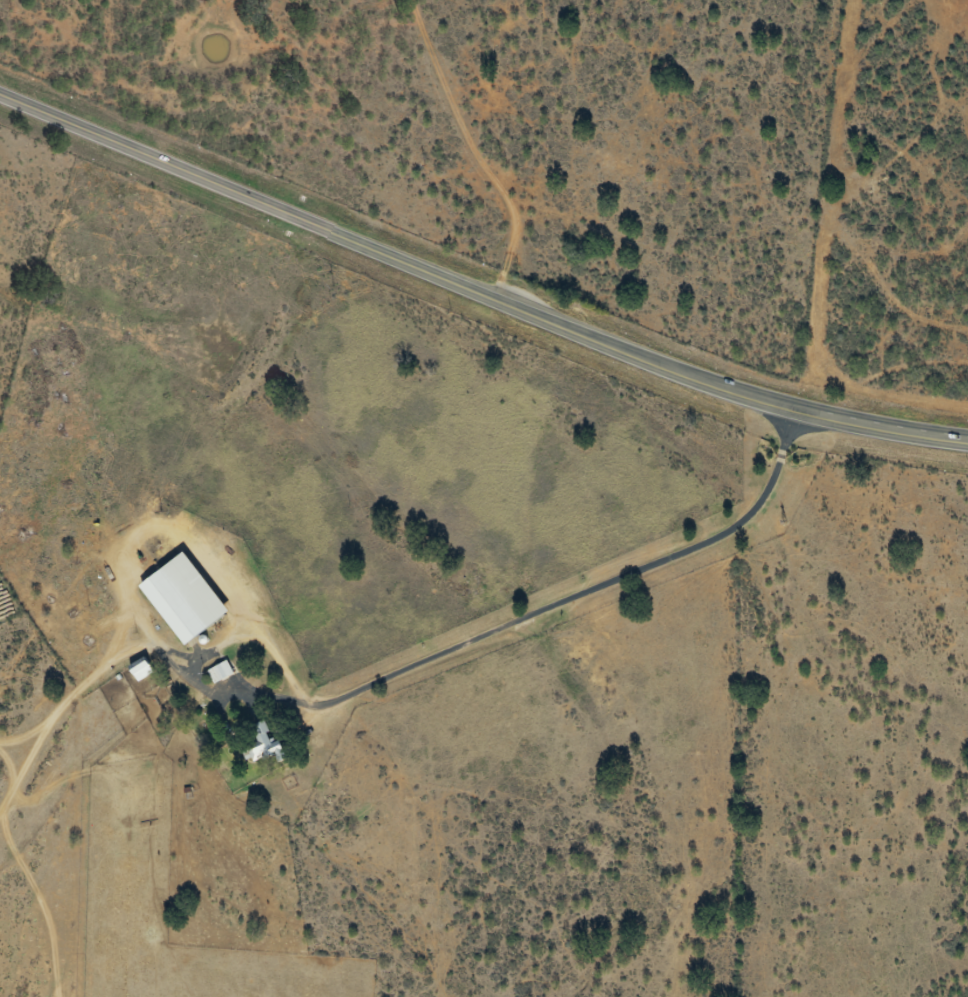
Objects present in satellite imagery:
road: (475, 149)
road: (478, 289)
building: (184, 598)
road: (521, 618)
building: (140, 669)
building: (220, 672)
building: (261, 743)

